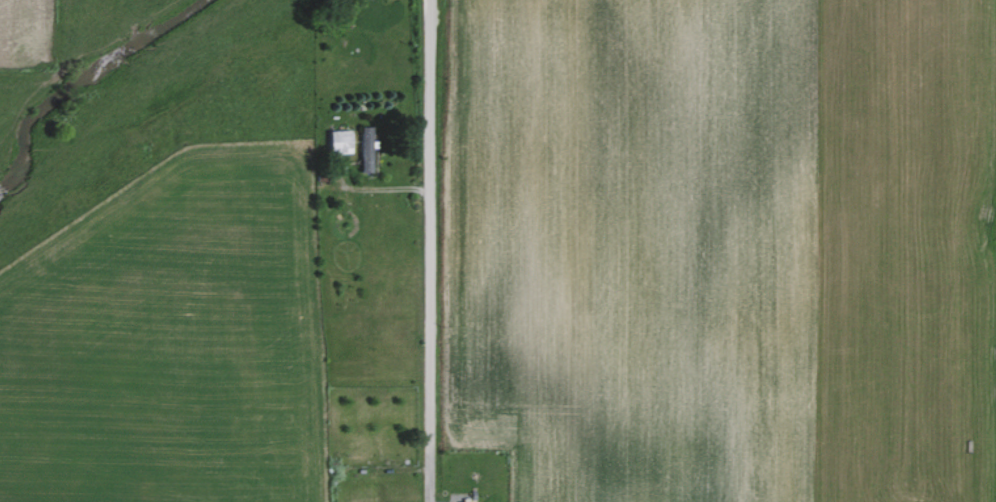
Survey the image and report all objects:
building: (341, 139)
building: (367, 148)
road: (372, 191)
road: (427, 237)
road: (427, 489)
building: (465, 501)

